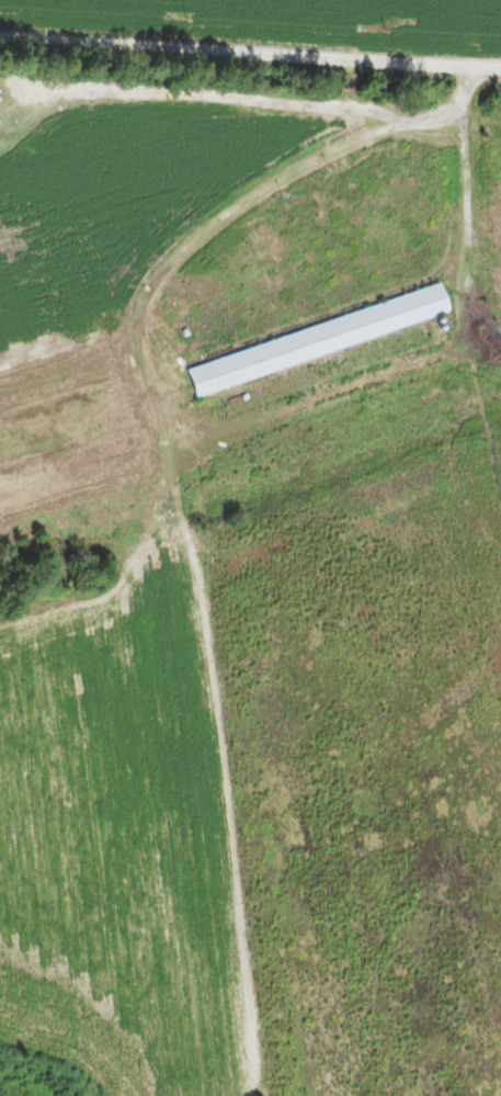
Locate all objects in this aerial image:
road: (364, 27)
road: (250, 44)
building: (183, 298)
road: (153, 305)
building: (317, 340)
building: (70, 475)

